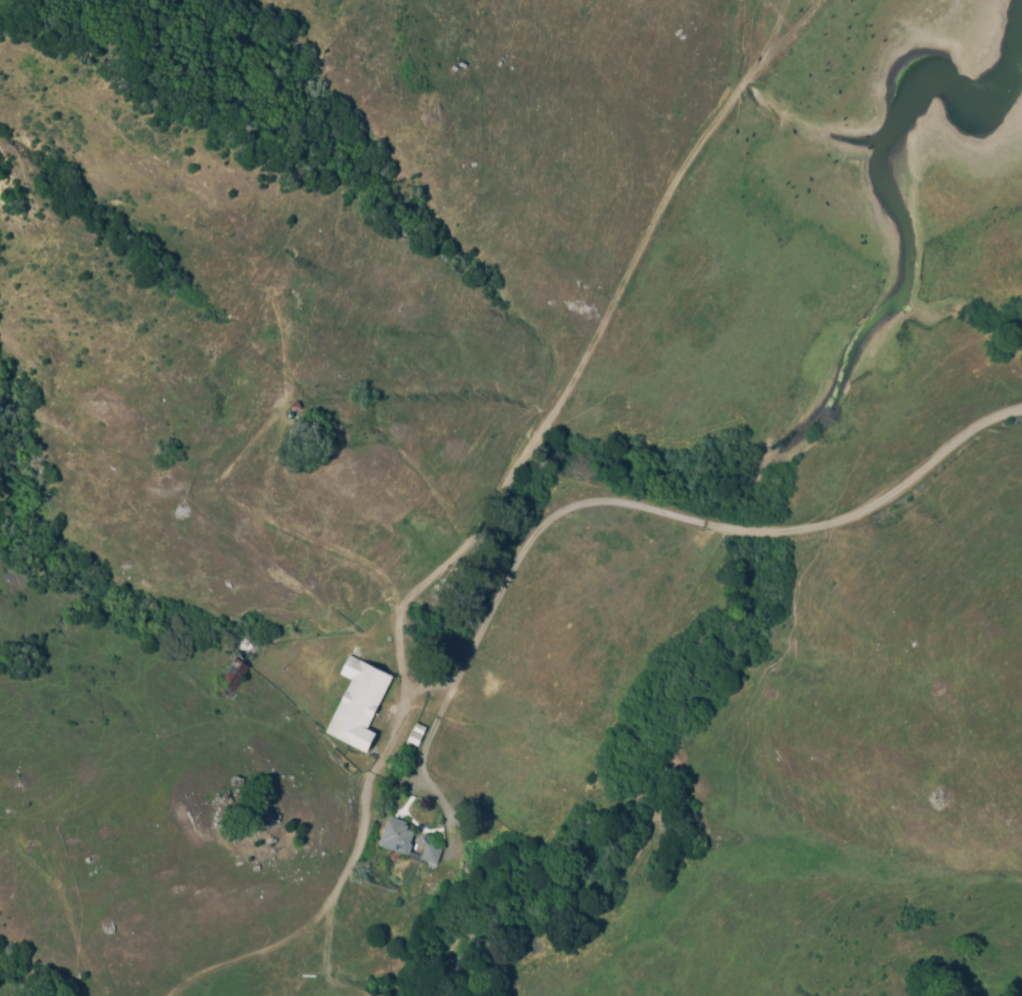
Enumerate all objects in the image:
road: (587, 350)
road: (684, 520)
building: (358, 709)
building: (416, 738)
building: (397, 841)
road: (357, 844)
building: (430, 857)

